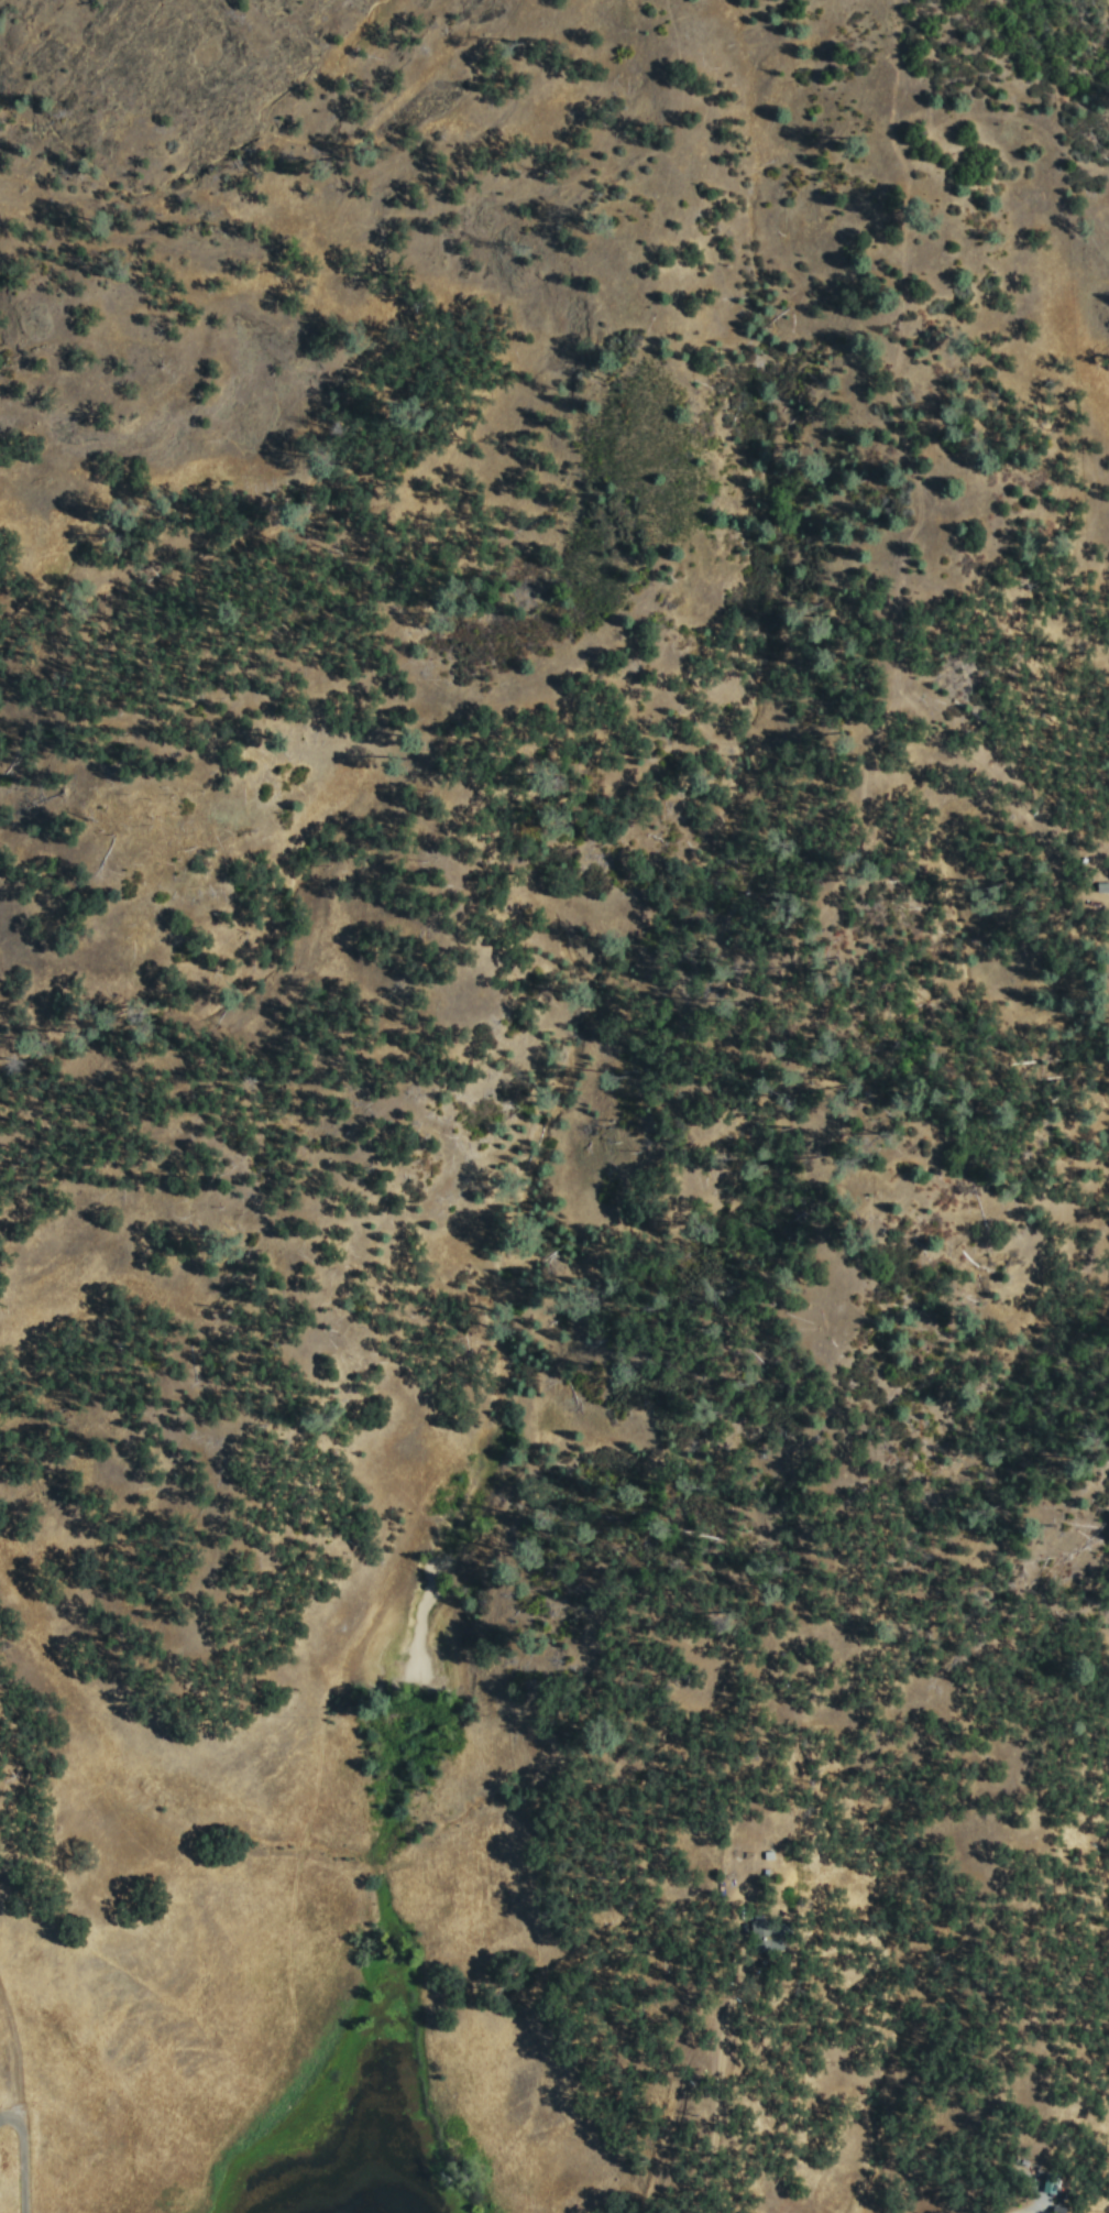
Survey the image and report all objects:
building: (755, 1936)
road: (721, 2107)
road: (13, 2144)
road: (28, 2173)

